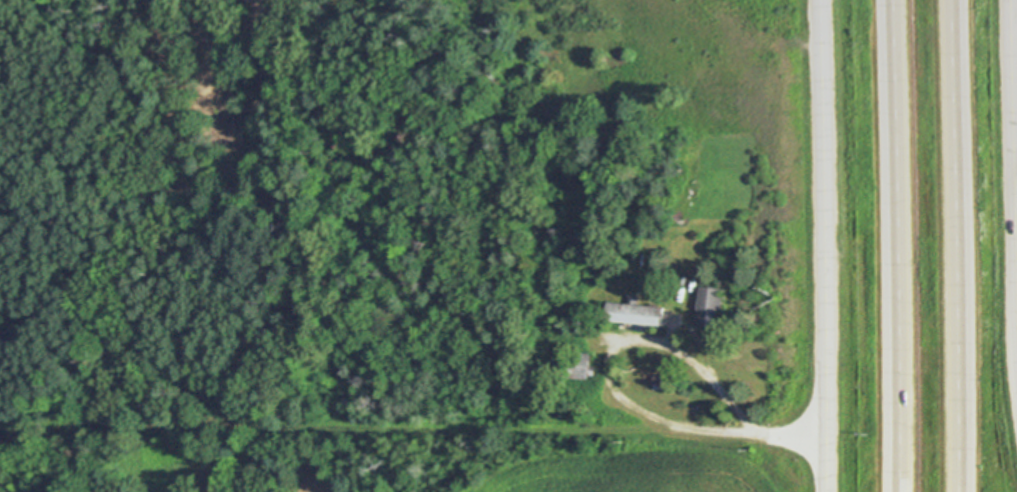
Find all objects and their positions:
road: (1014, 63)
road: (1015, 149)
road: (1013, 178)
road: (822, 246)
road: (895, 246)
road: (955, 246)
building: (637, 275)
building: (710, 307)
building: (636, 310)
building: (18, 336)
building: (584, 363)
building: (660, 381)
road: (615, 390)

